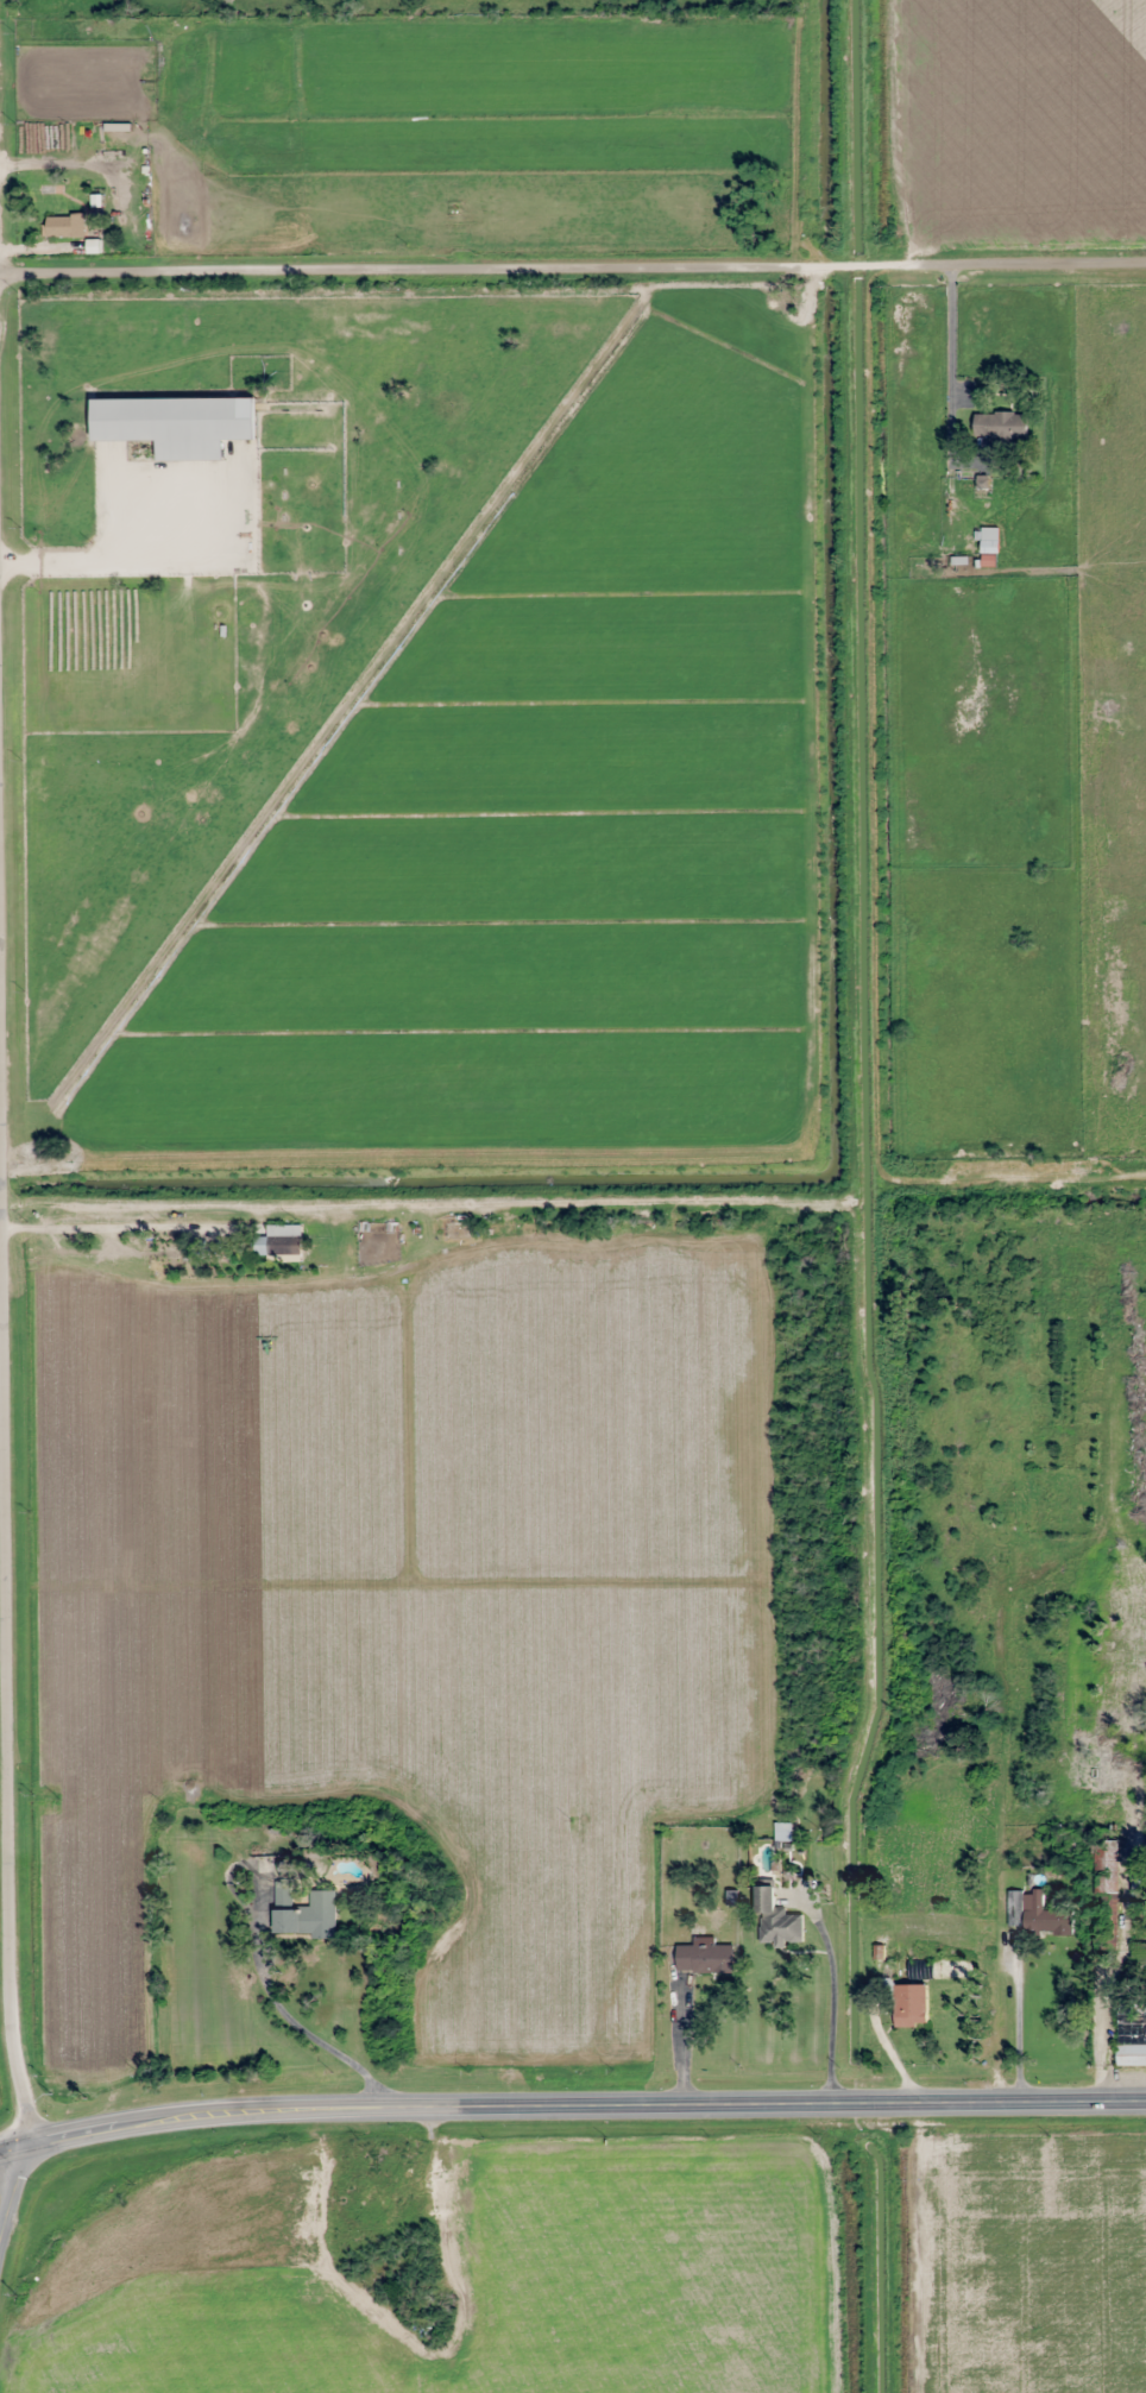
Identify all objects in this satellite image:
building: (456, 212)
building: (64, 226)
road: (573, 256)
building: (176, 423)
building: (1000, 424)
building: (989, 540)
building: (284, 1239)
building: (782, 1832)
road: (6, 1859)
building: (1103, 1875)
building: (304, 1913)
building: (1037, 1914)
building: (776, 1923)
building: (1108, 1927)
building: (705, 1957)
building: (879, 1958)
building: (911, 2005)
building: (1131, 2052)
road: (571, 2105)
road: (11, 2191)

